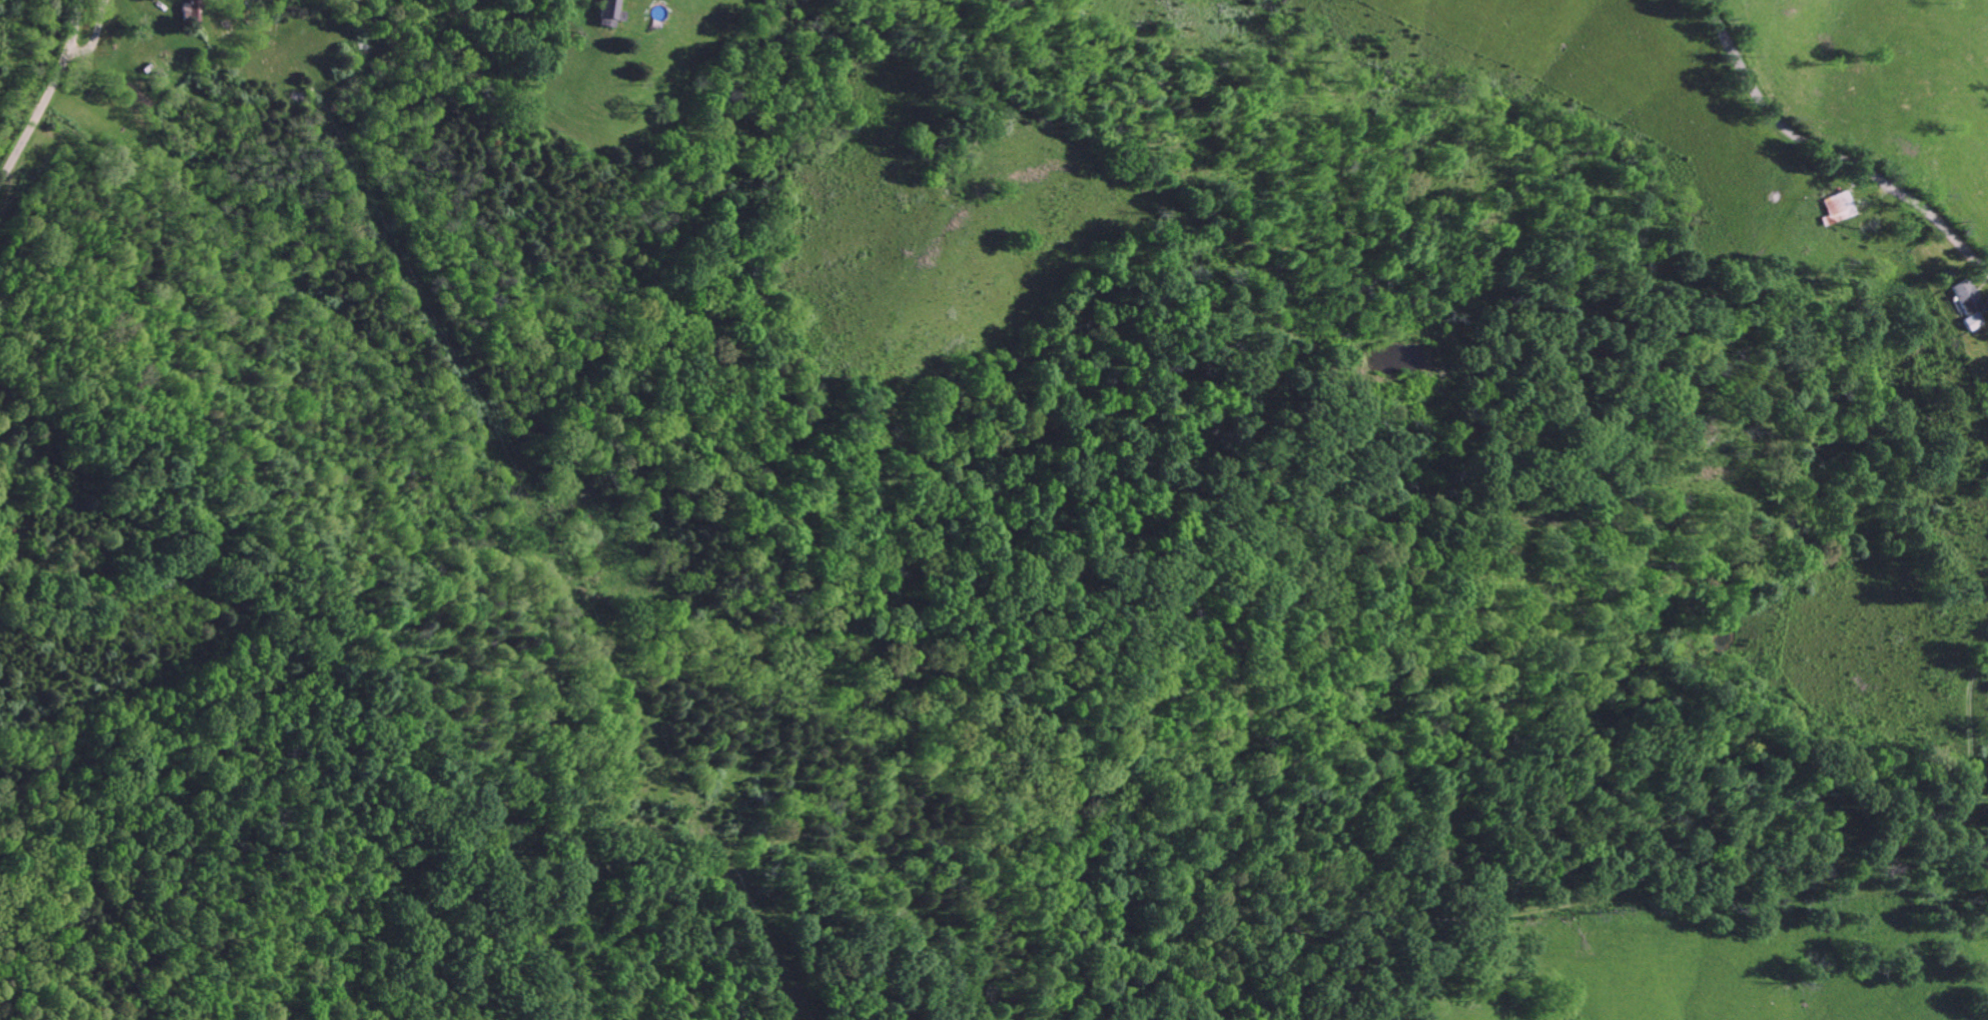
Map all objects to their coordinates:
building: (196, 10)
building: (608, 13)
road: (94, 36)
road: (46, 92)
road: (1824, 153)
building: (1968, 297)
building: (1987, 688)

